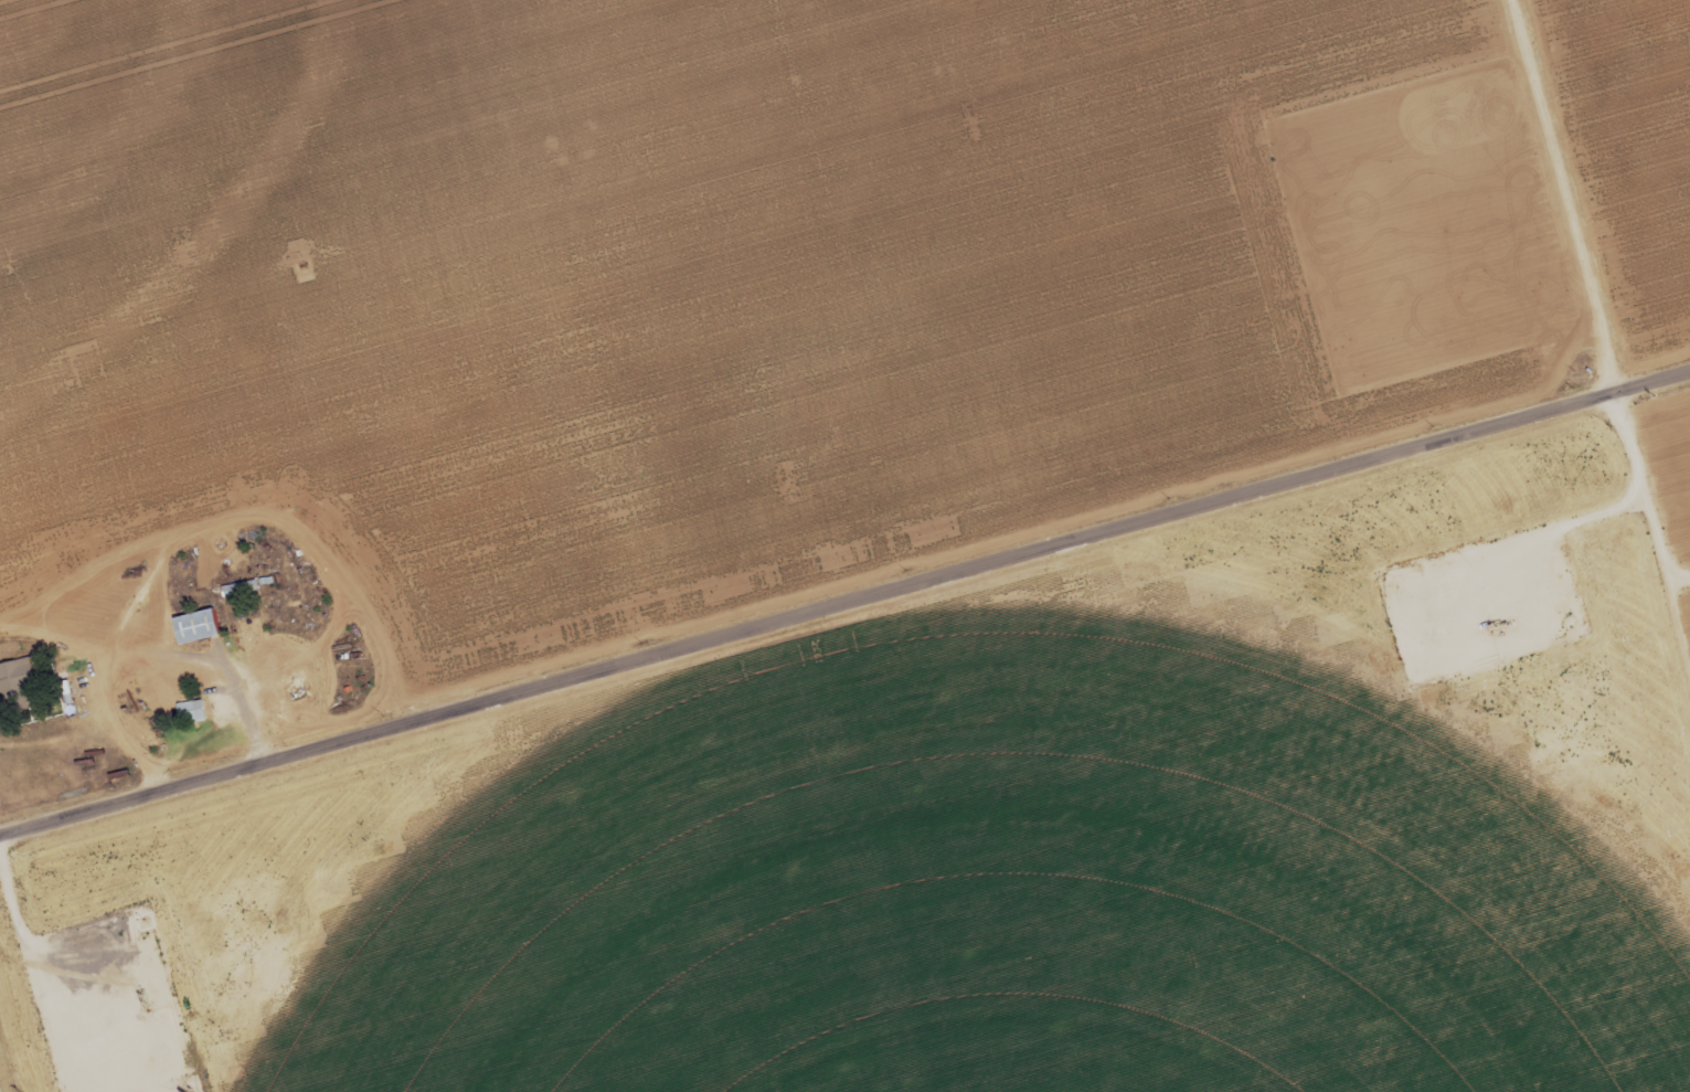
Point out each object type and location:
road: (1569, 201)
building: (238, 589)
road: (844, 614)
building: (196, 626)
building: (18, 683)
building: (192, 712)

